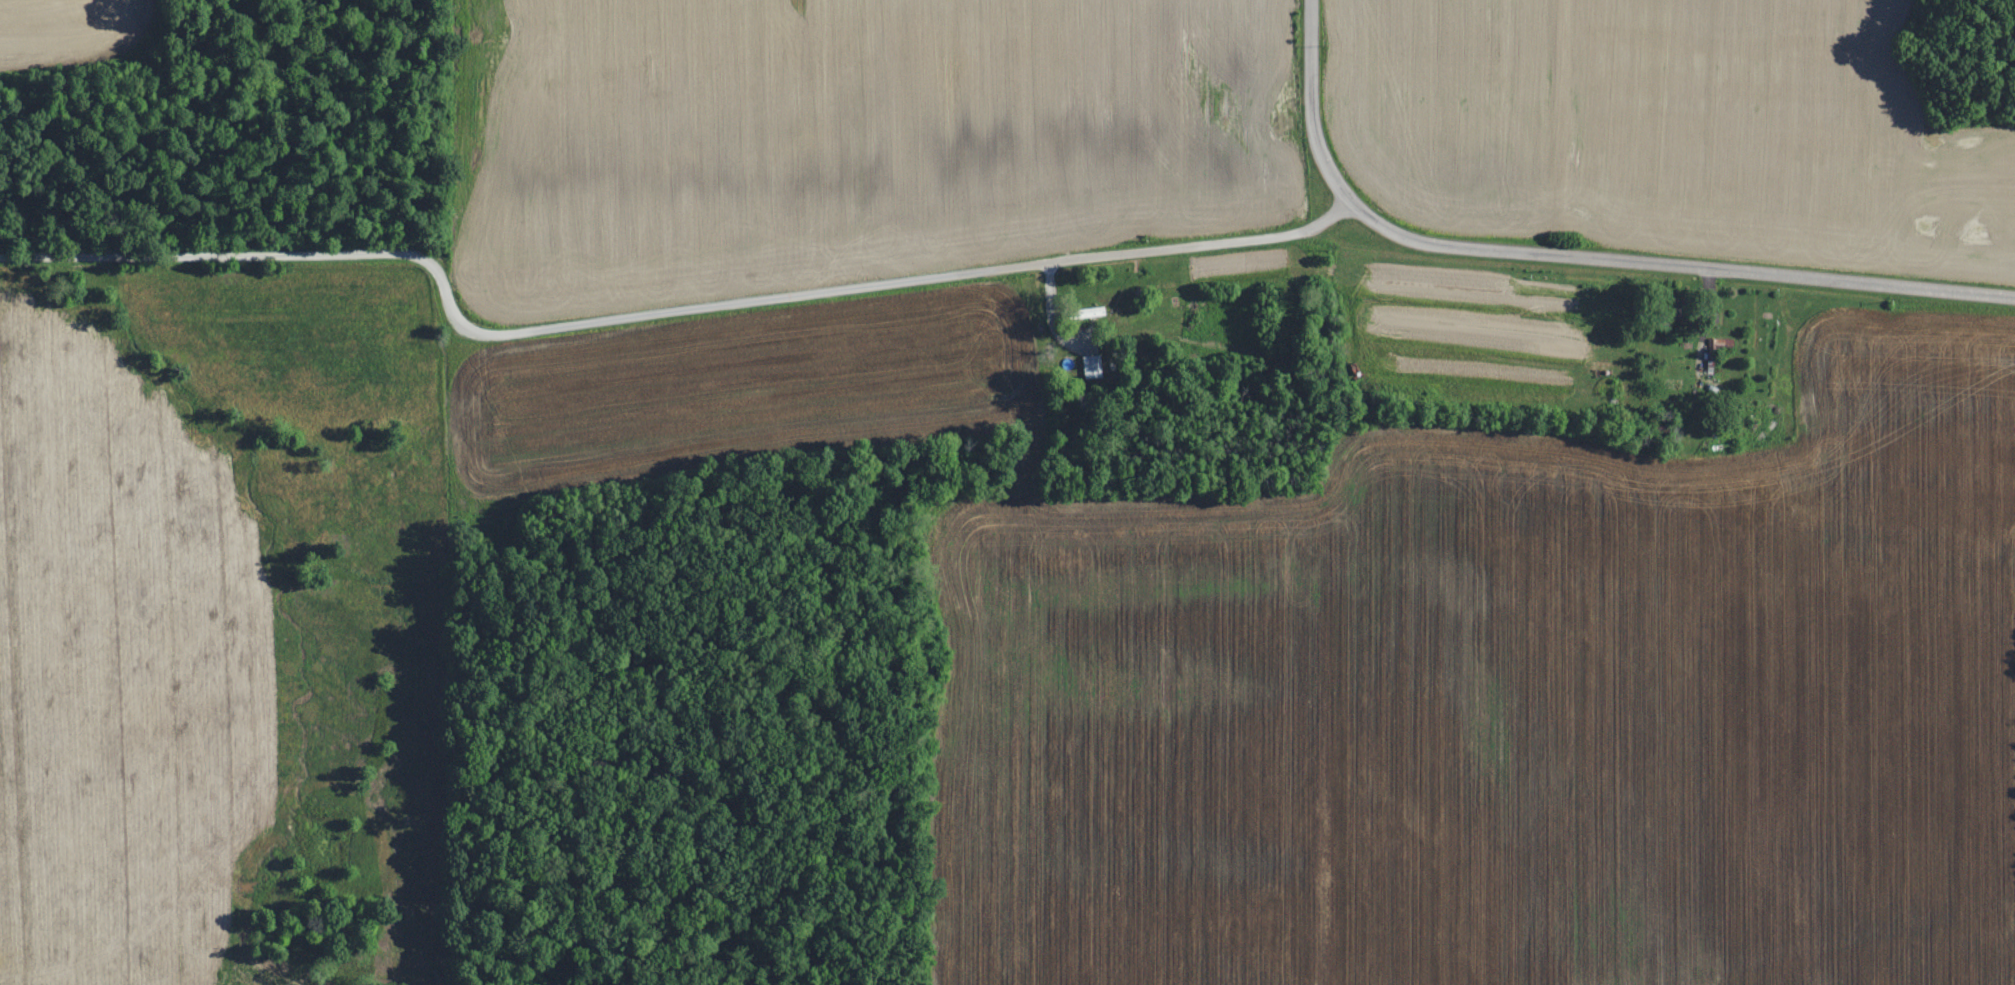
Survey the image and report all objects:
road: (1312, 103)
road: (1673, 265)
road: (658, 312)

